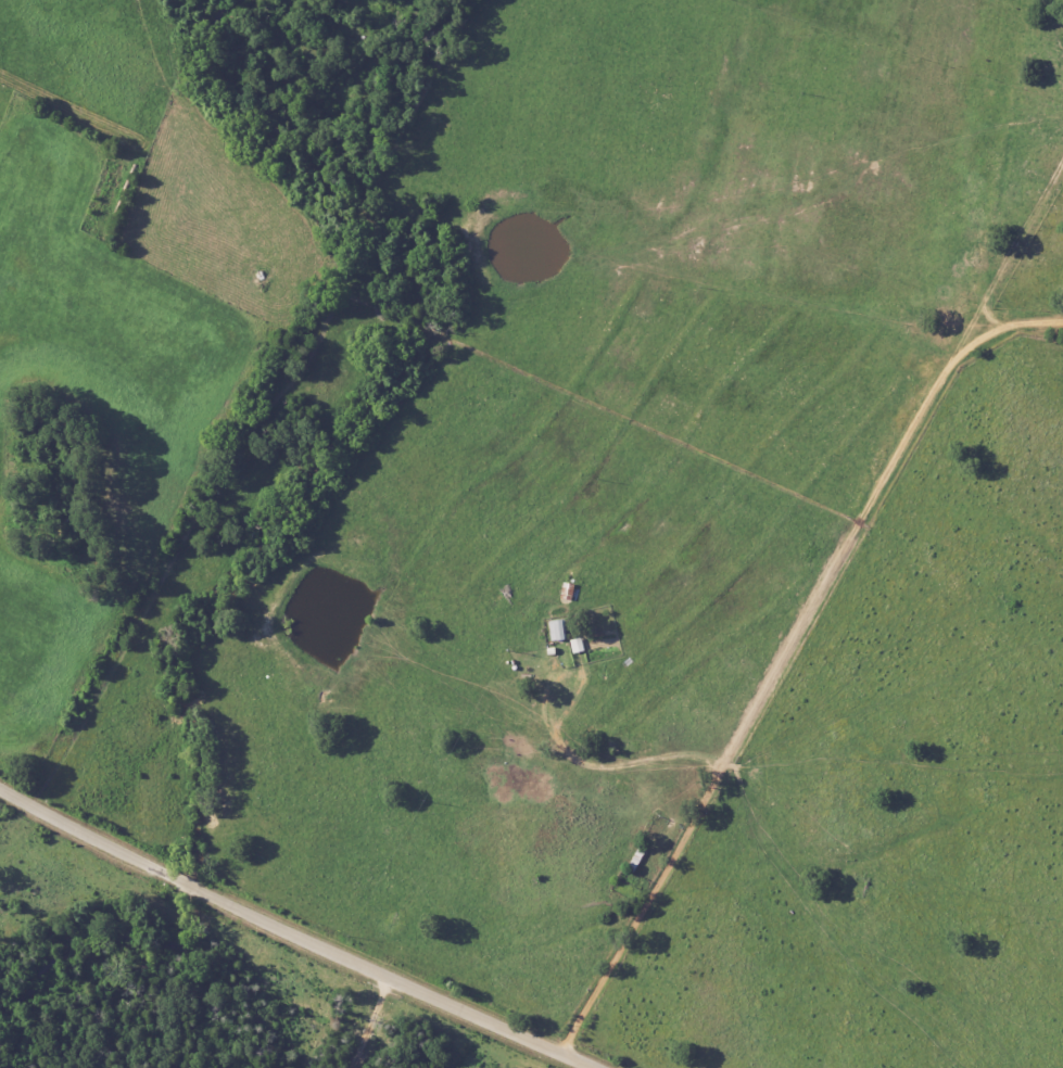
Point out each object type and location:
building: (558, 630)
building: (578, 645)
road: (783, 651)
road: (294, 931)
road: (368, 1021)

